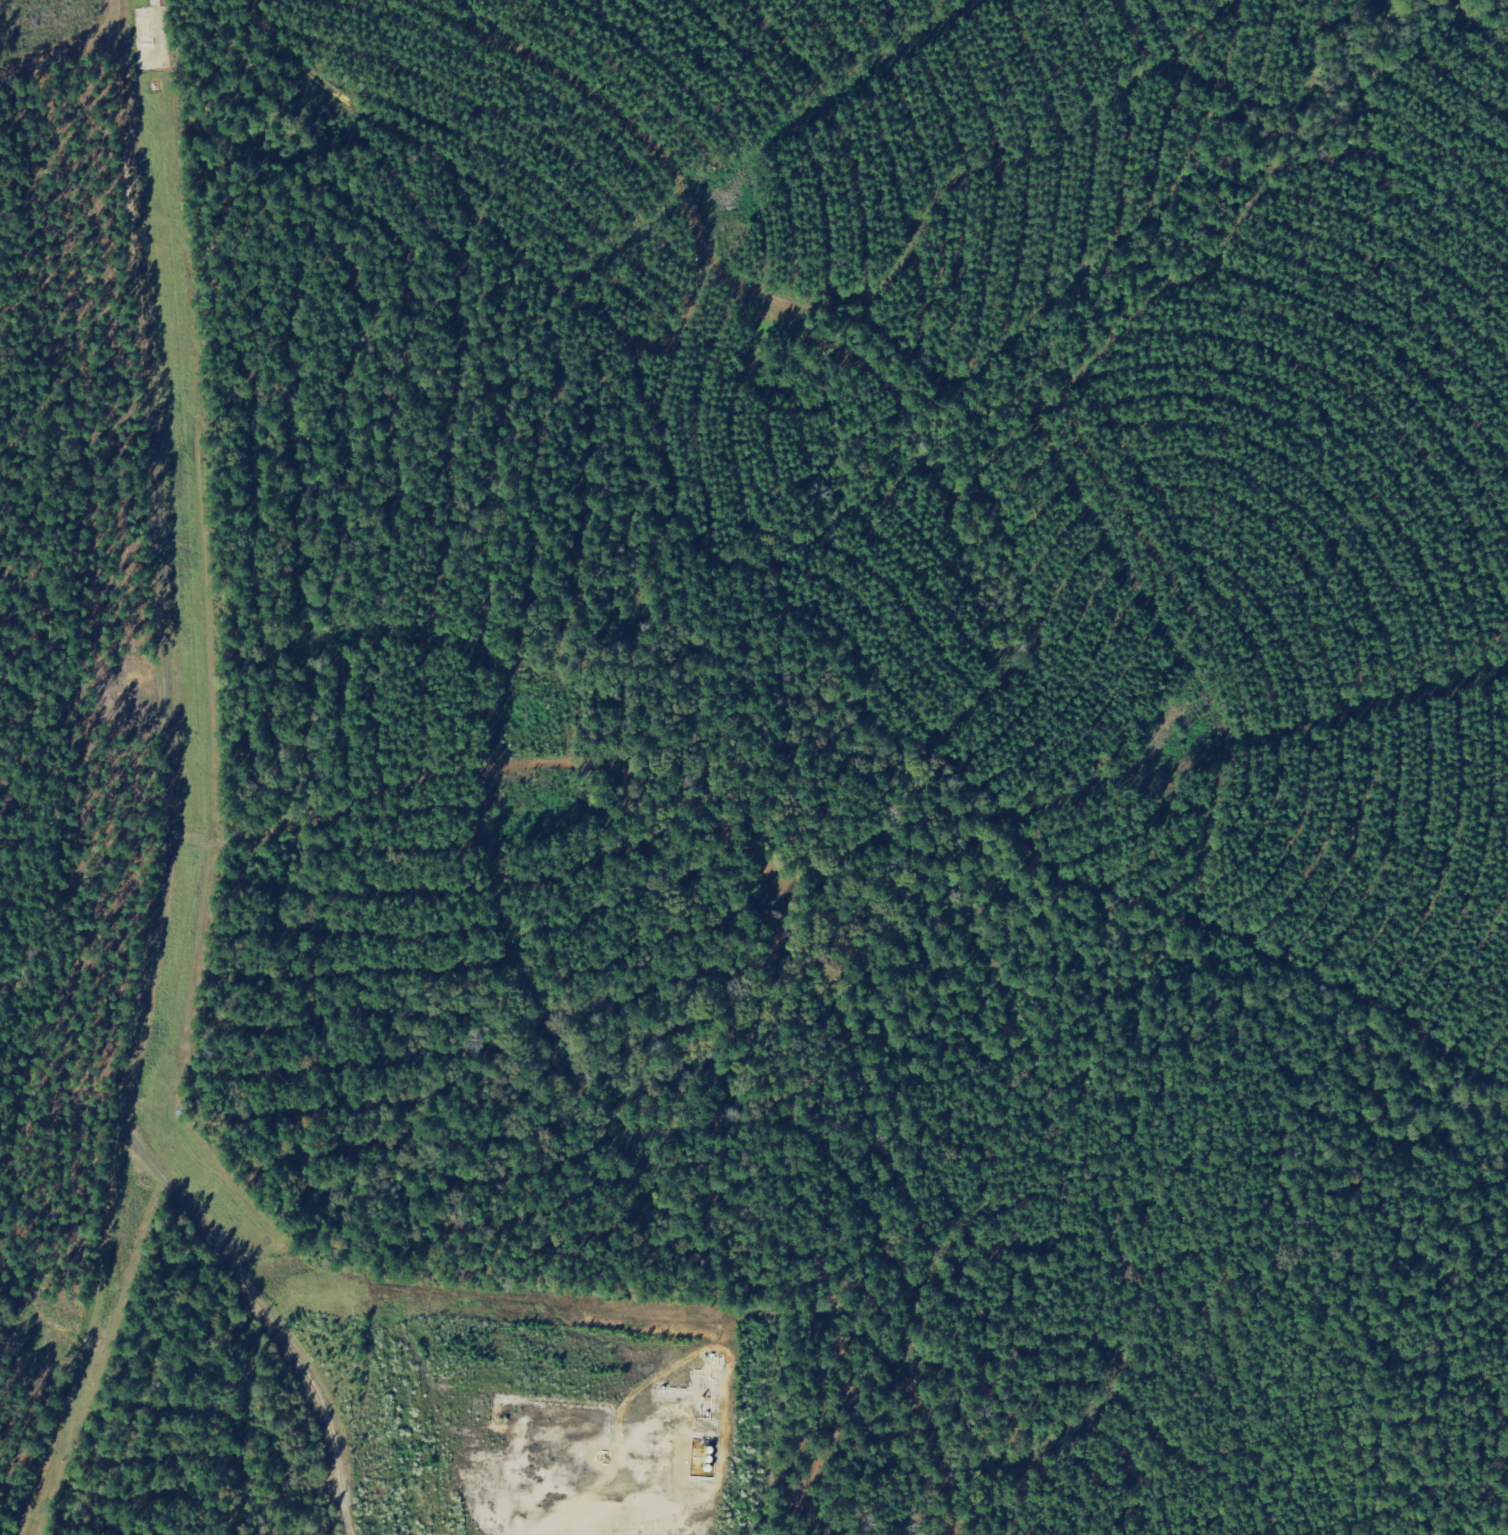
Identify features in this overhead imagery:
road: (127, 26)
road: (62, 77)
road: (112, 515)
road: (187, 967)

